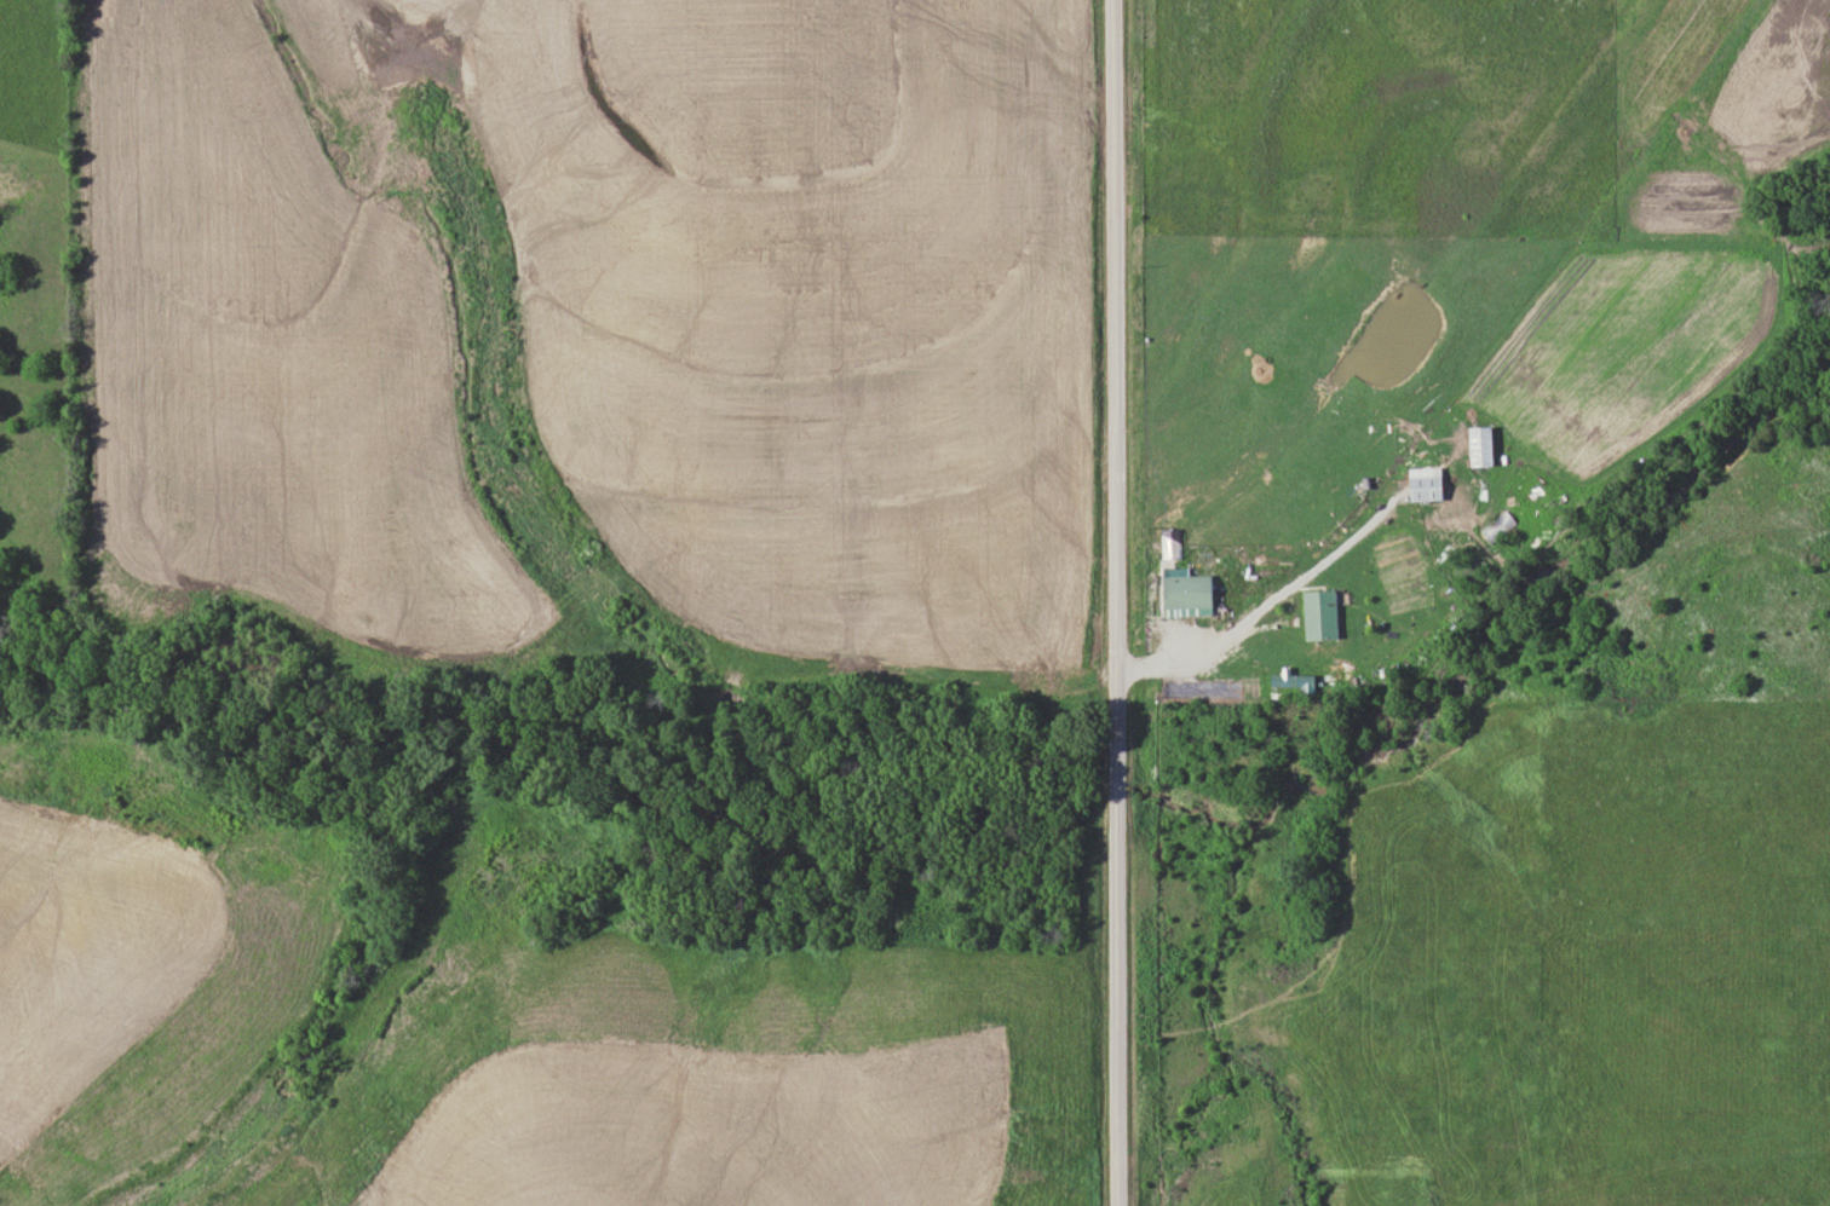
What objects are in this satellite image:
road: (1113, 602)

